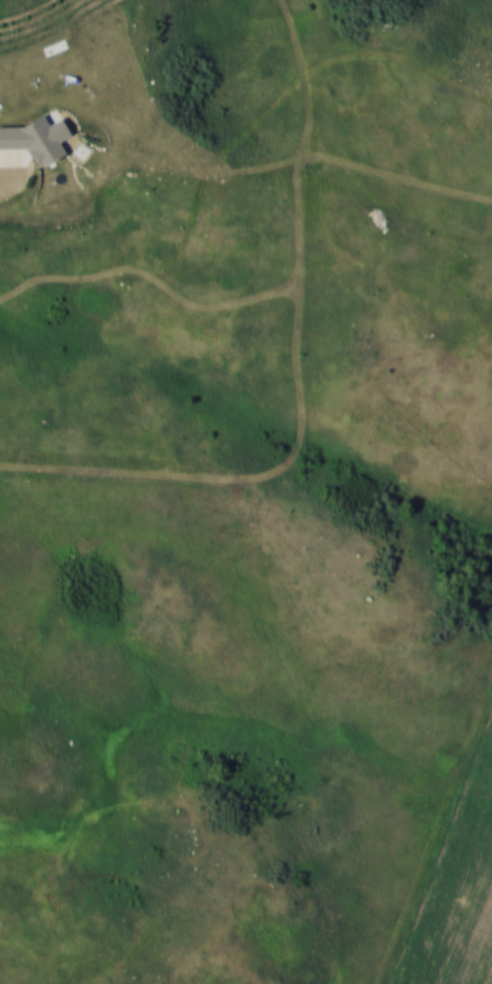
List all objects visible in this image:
building: (35, 140)

